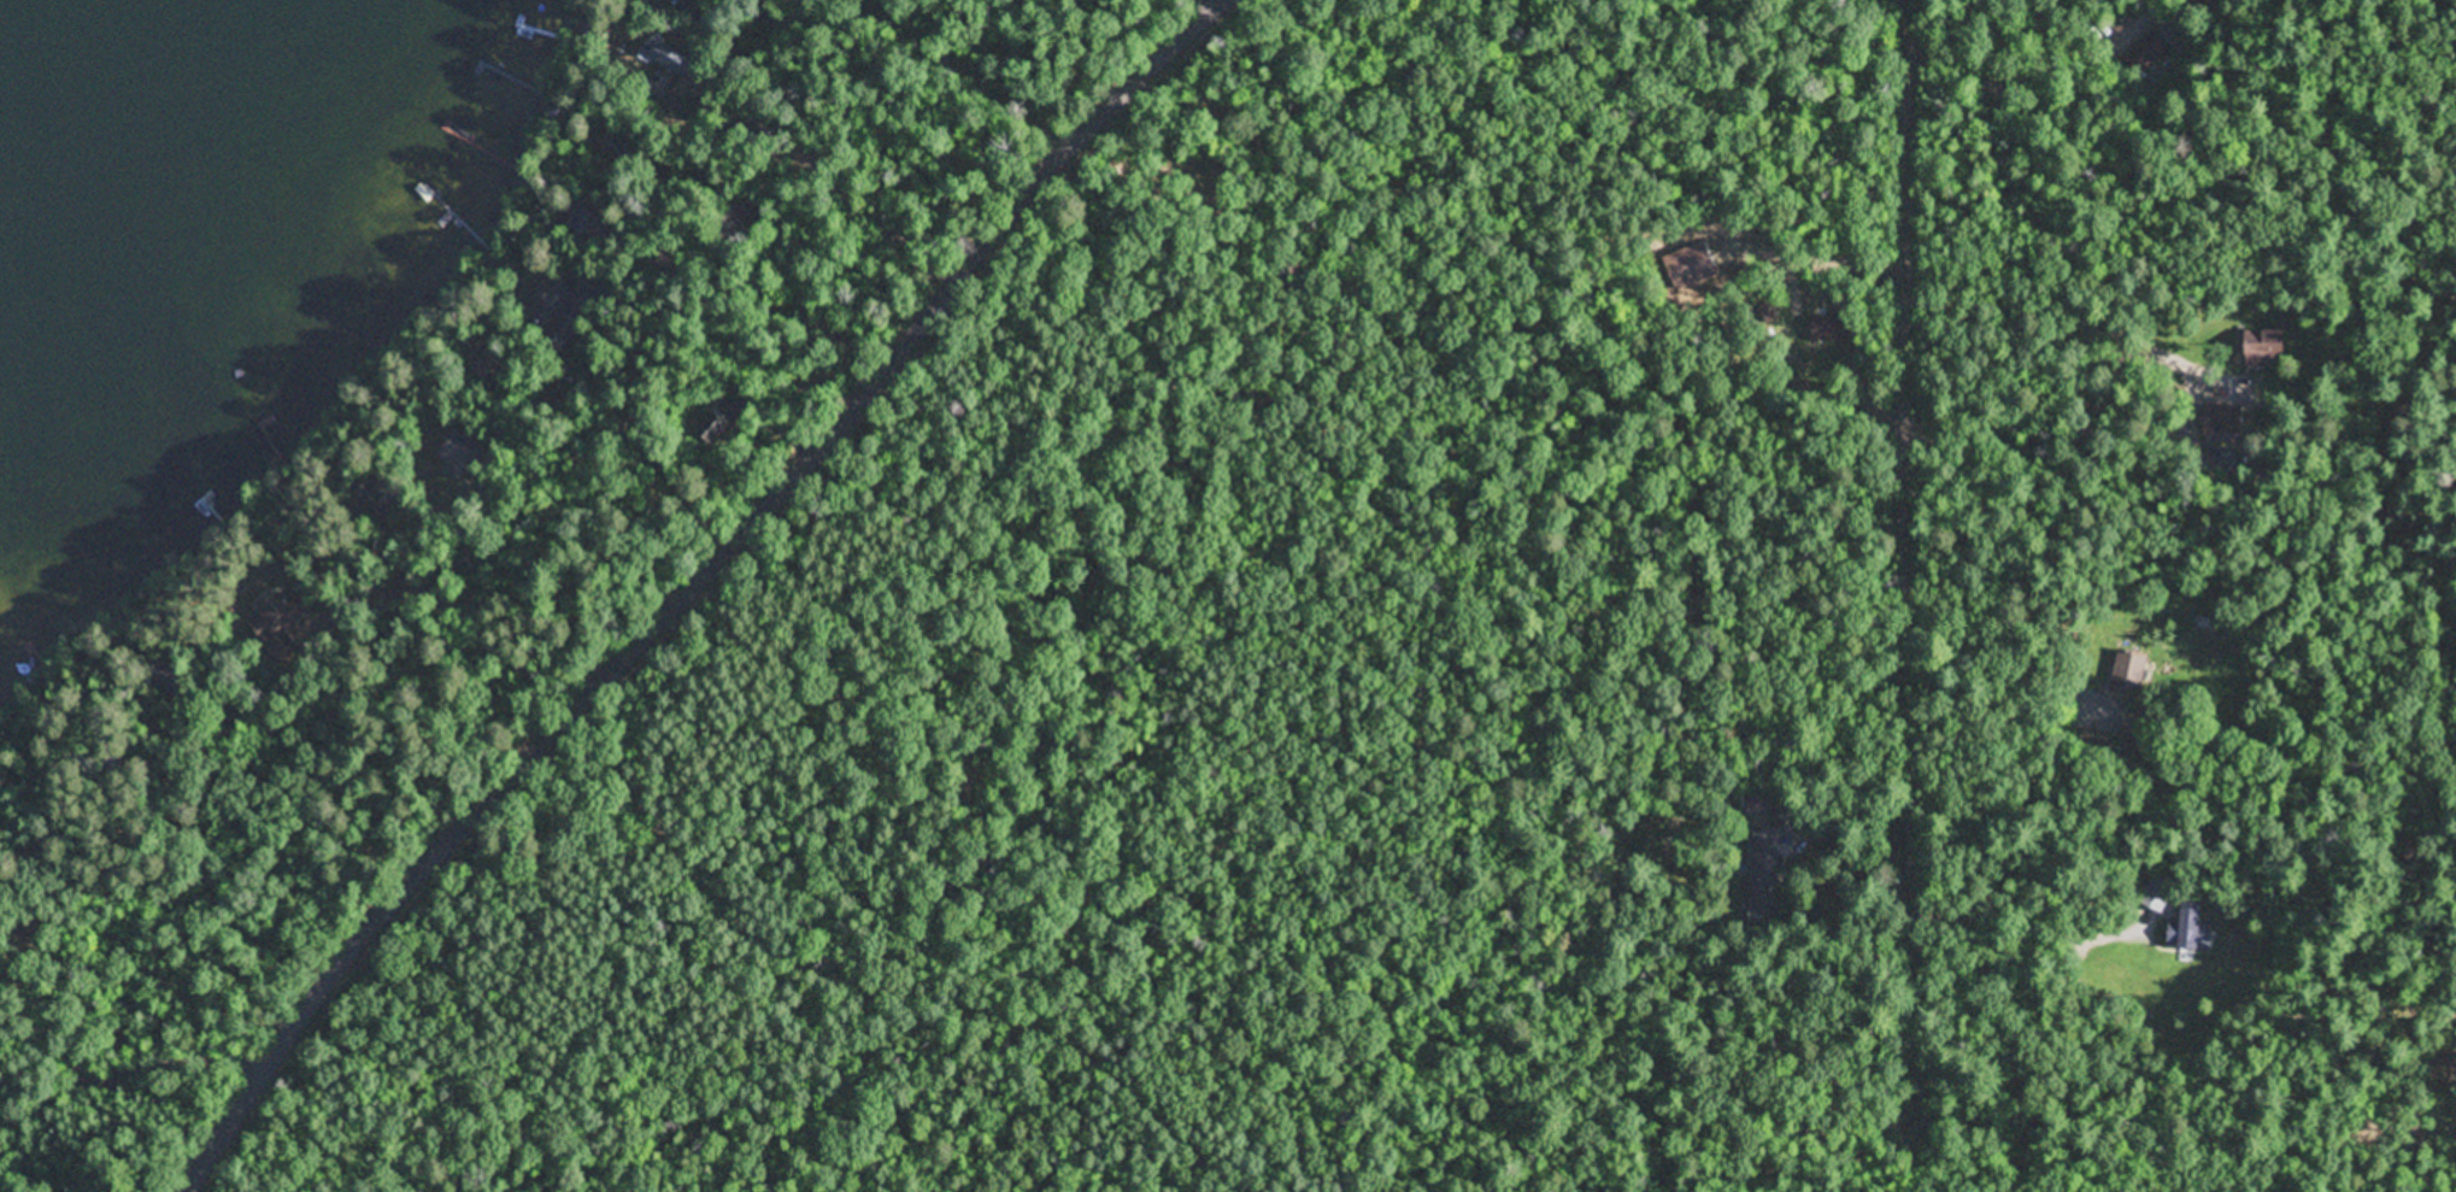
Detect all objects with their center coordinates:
road: (957, 69)
building: (542, 303)
building: (2257, 343)
road: (1910, 557)
road: (695, 587)
road: (452, 605)
building: (271, 617)
building: (2126, 662)
building: (1761, 845)
building: (2151, 898)
building: (2180, 927)
road: (876, 973)
road: (53, 1047)
road: (129, 1073)

